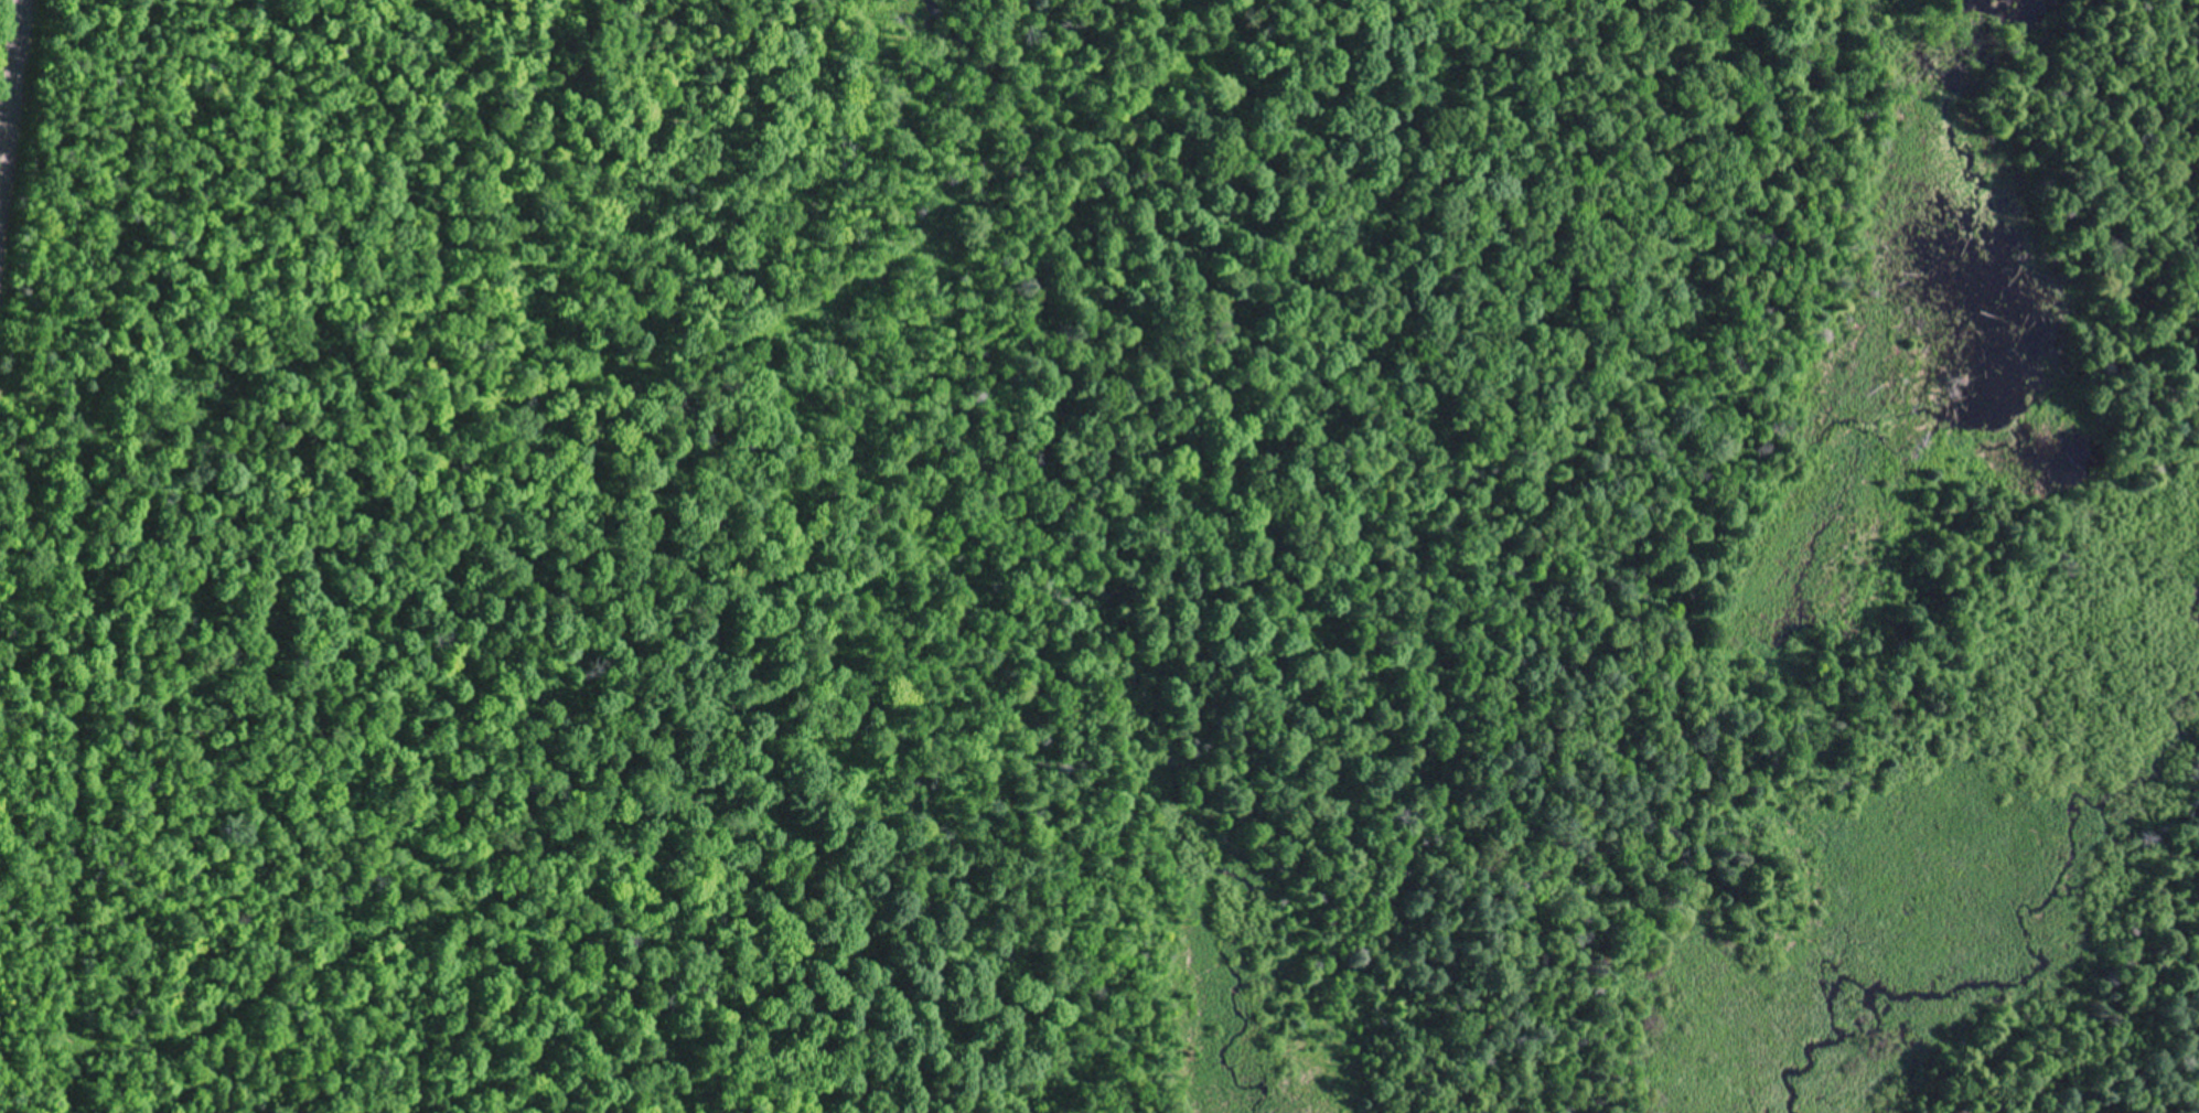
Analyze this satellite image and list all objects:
road: (12, 116)

